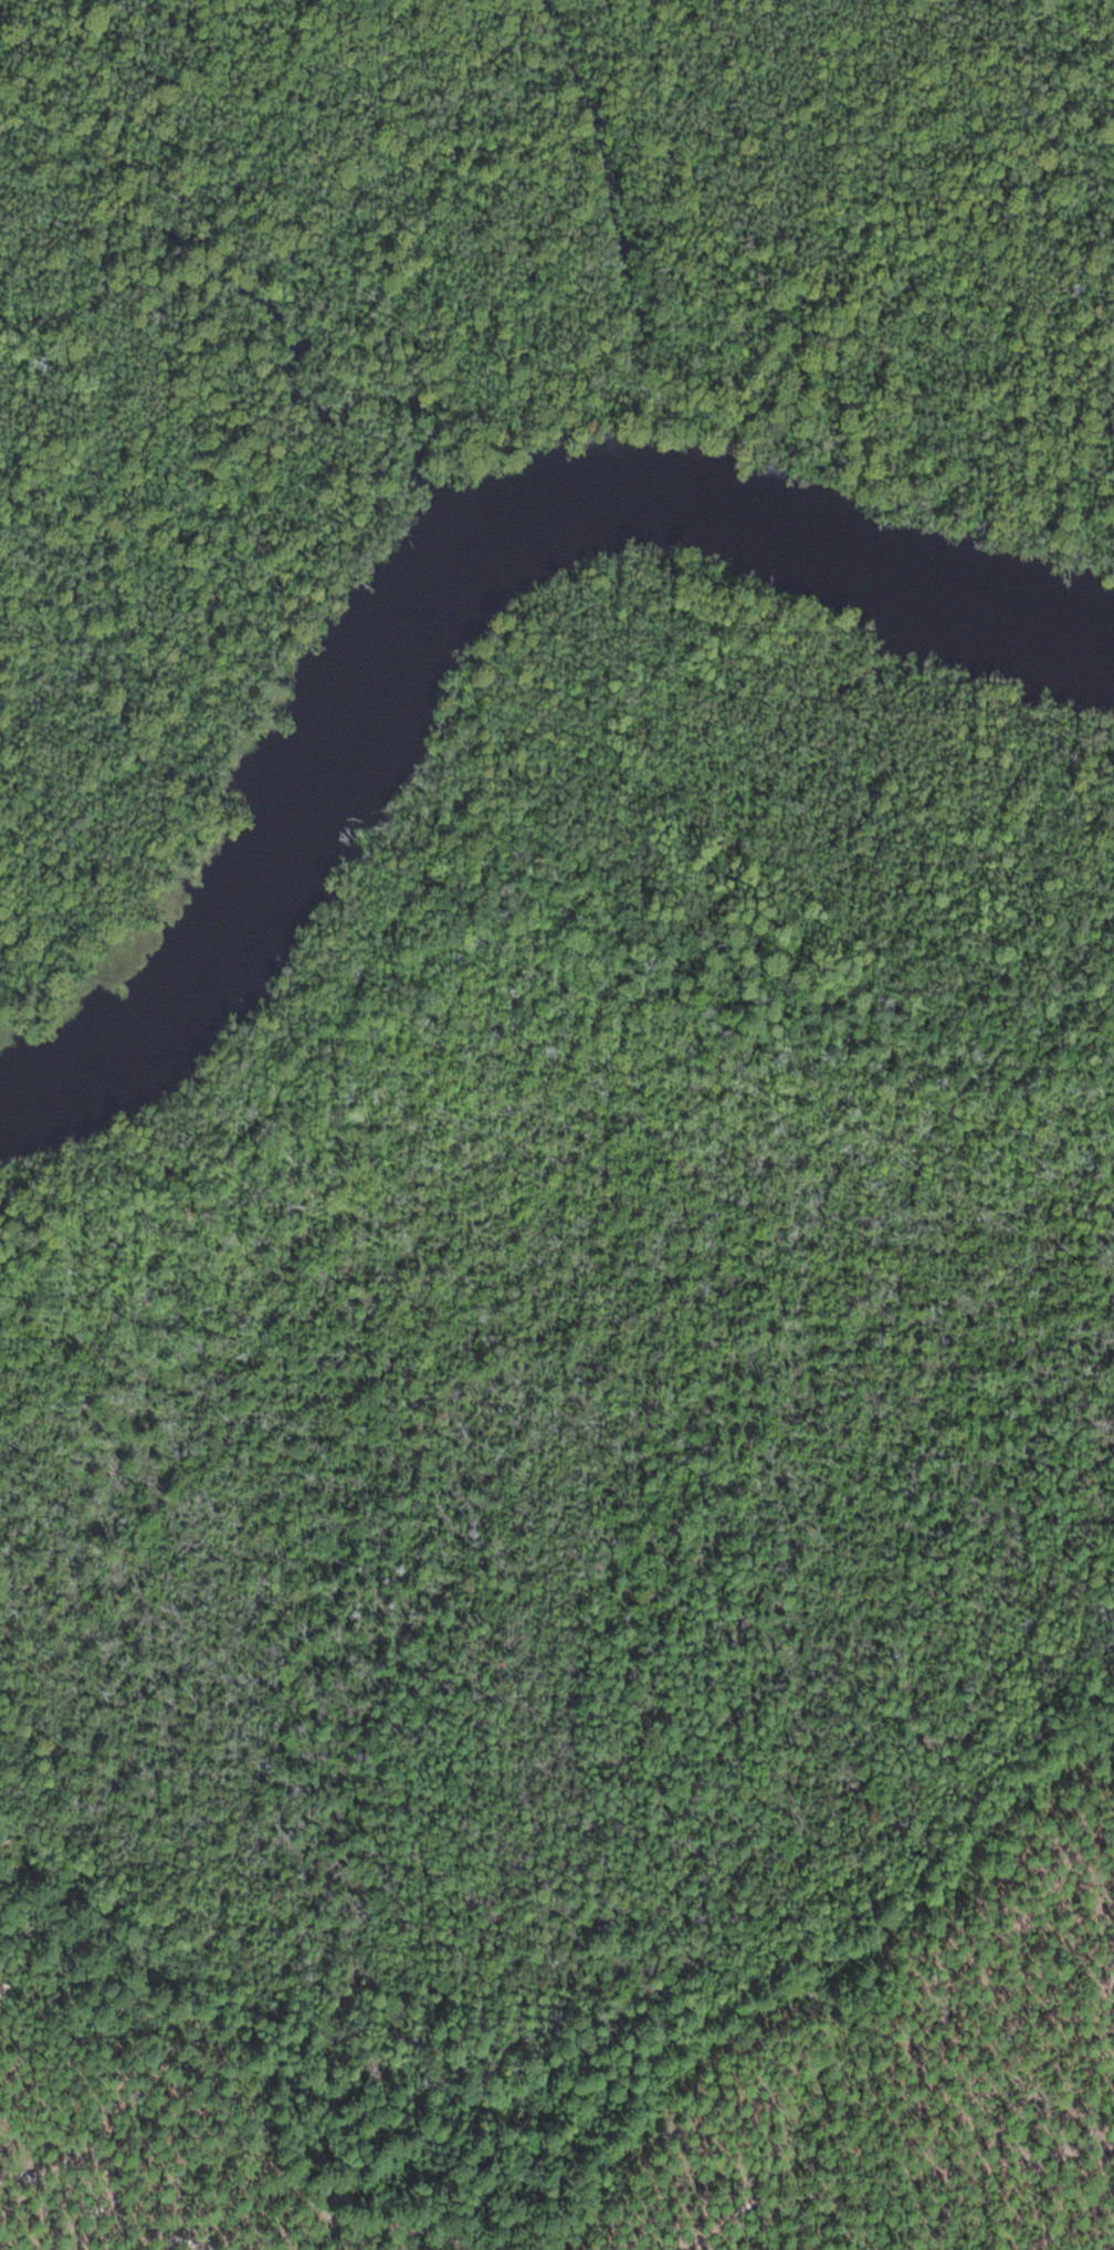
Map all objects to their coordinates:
road: (129, 1974)
road: (278, 2144)

